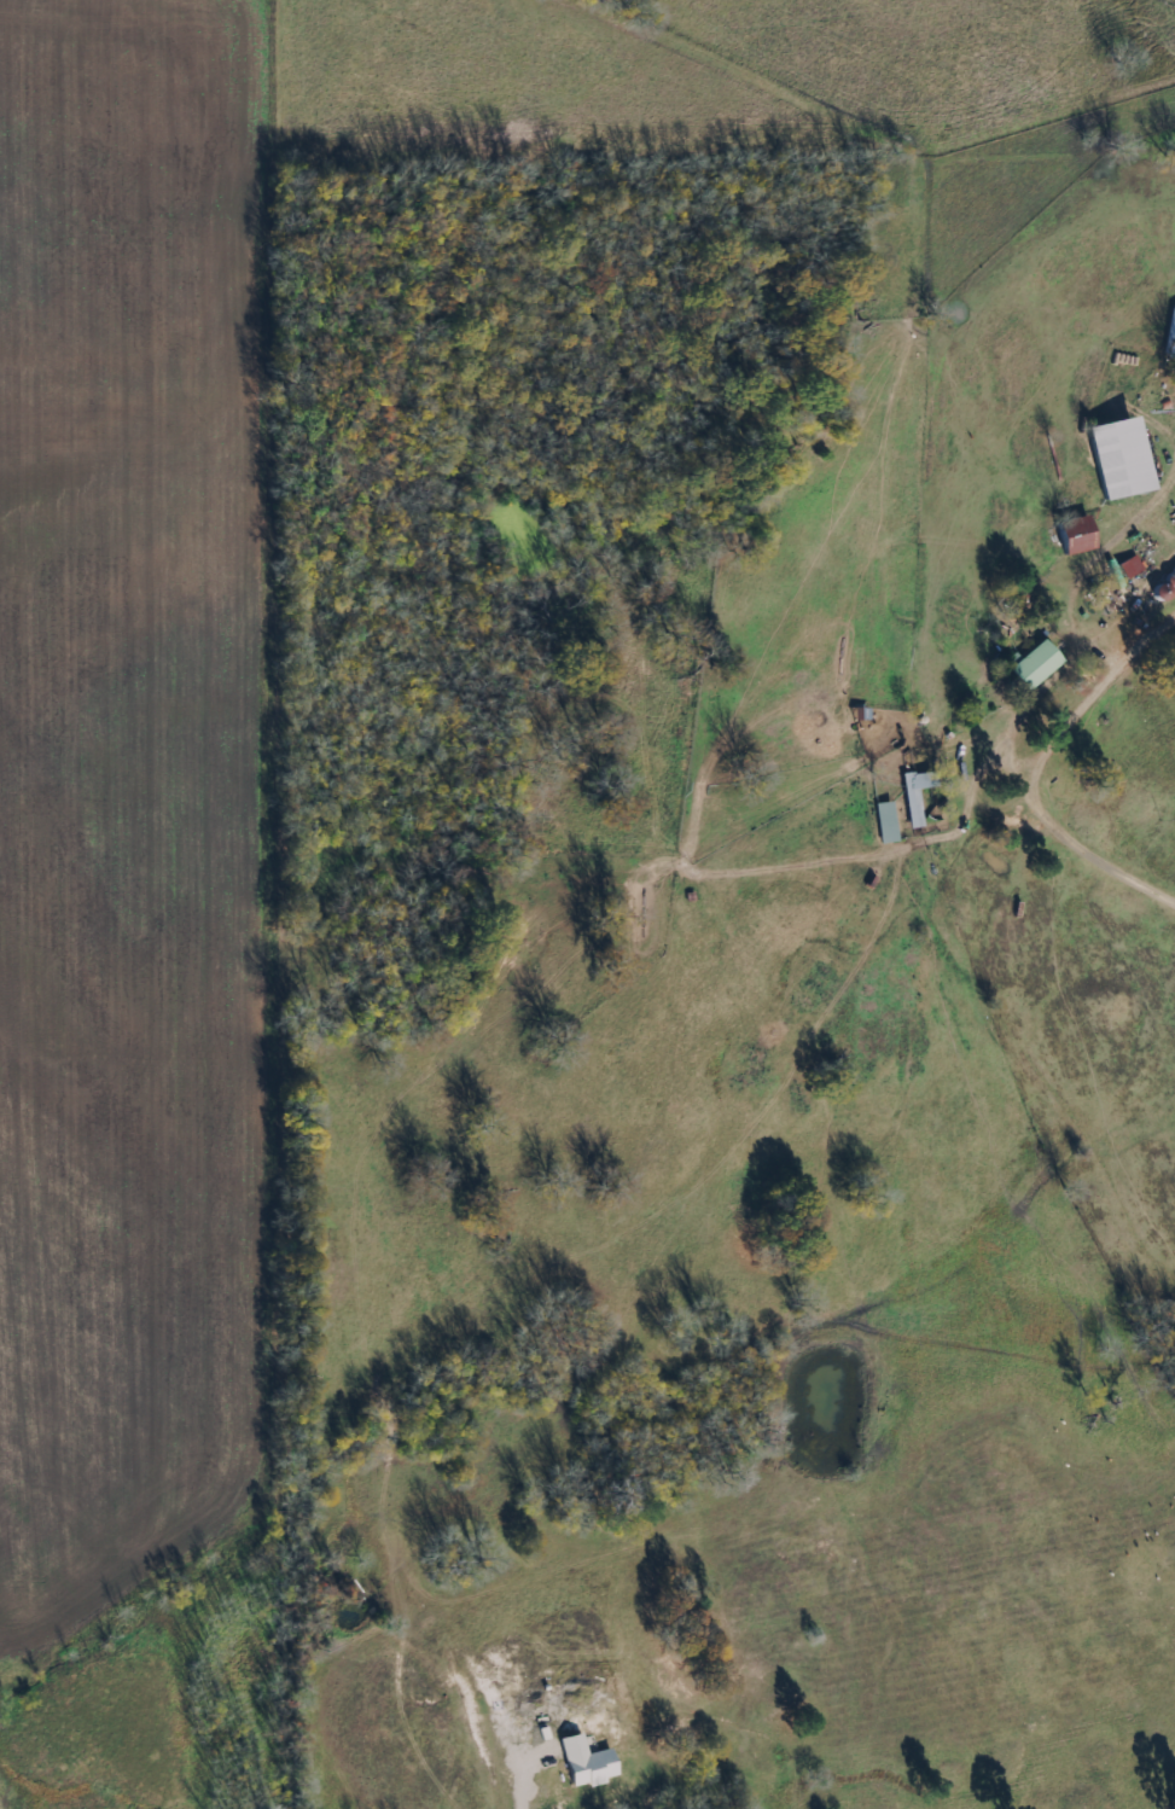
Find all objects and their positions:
building: (1170, 335)
building: (1116, 458)
building: (1074, 535)
building: (1034, 664)
road: (1070, 814)
building: (584, 1762)

